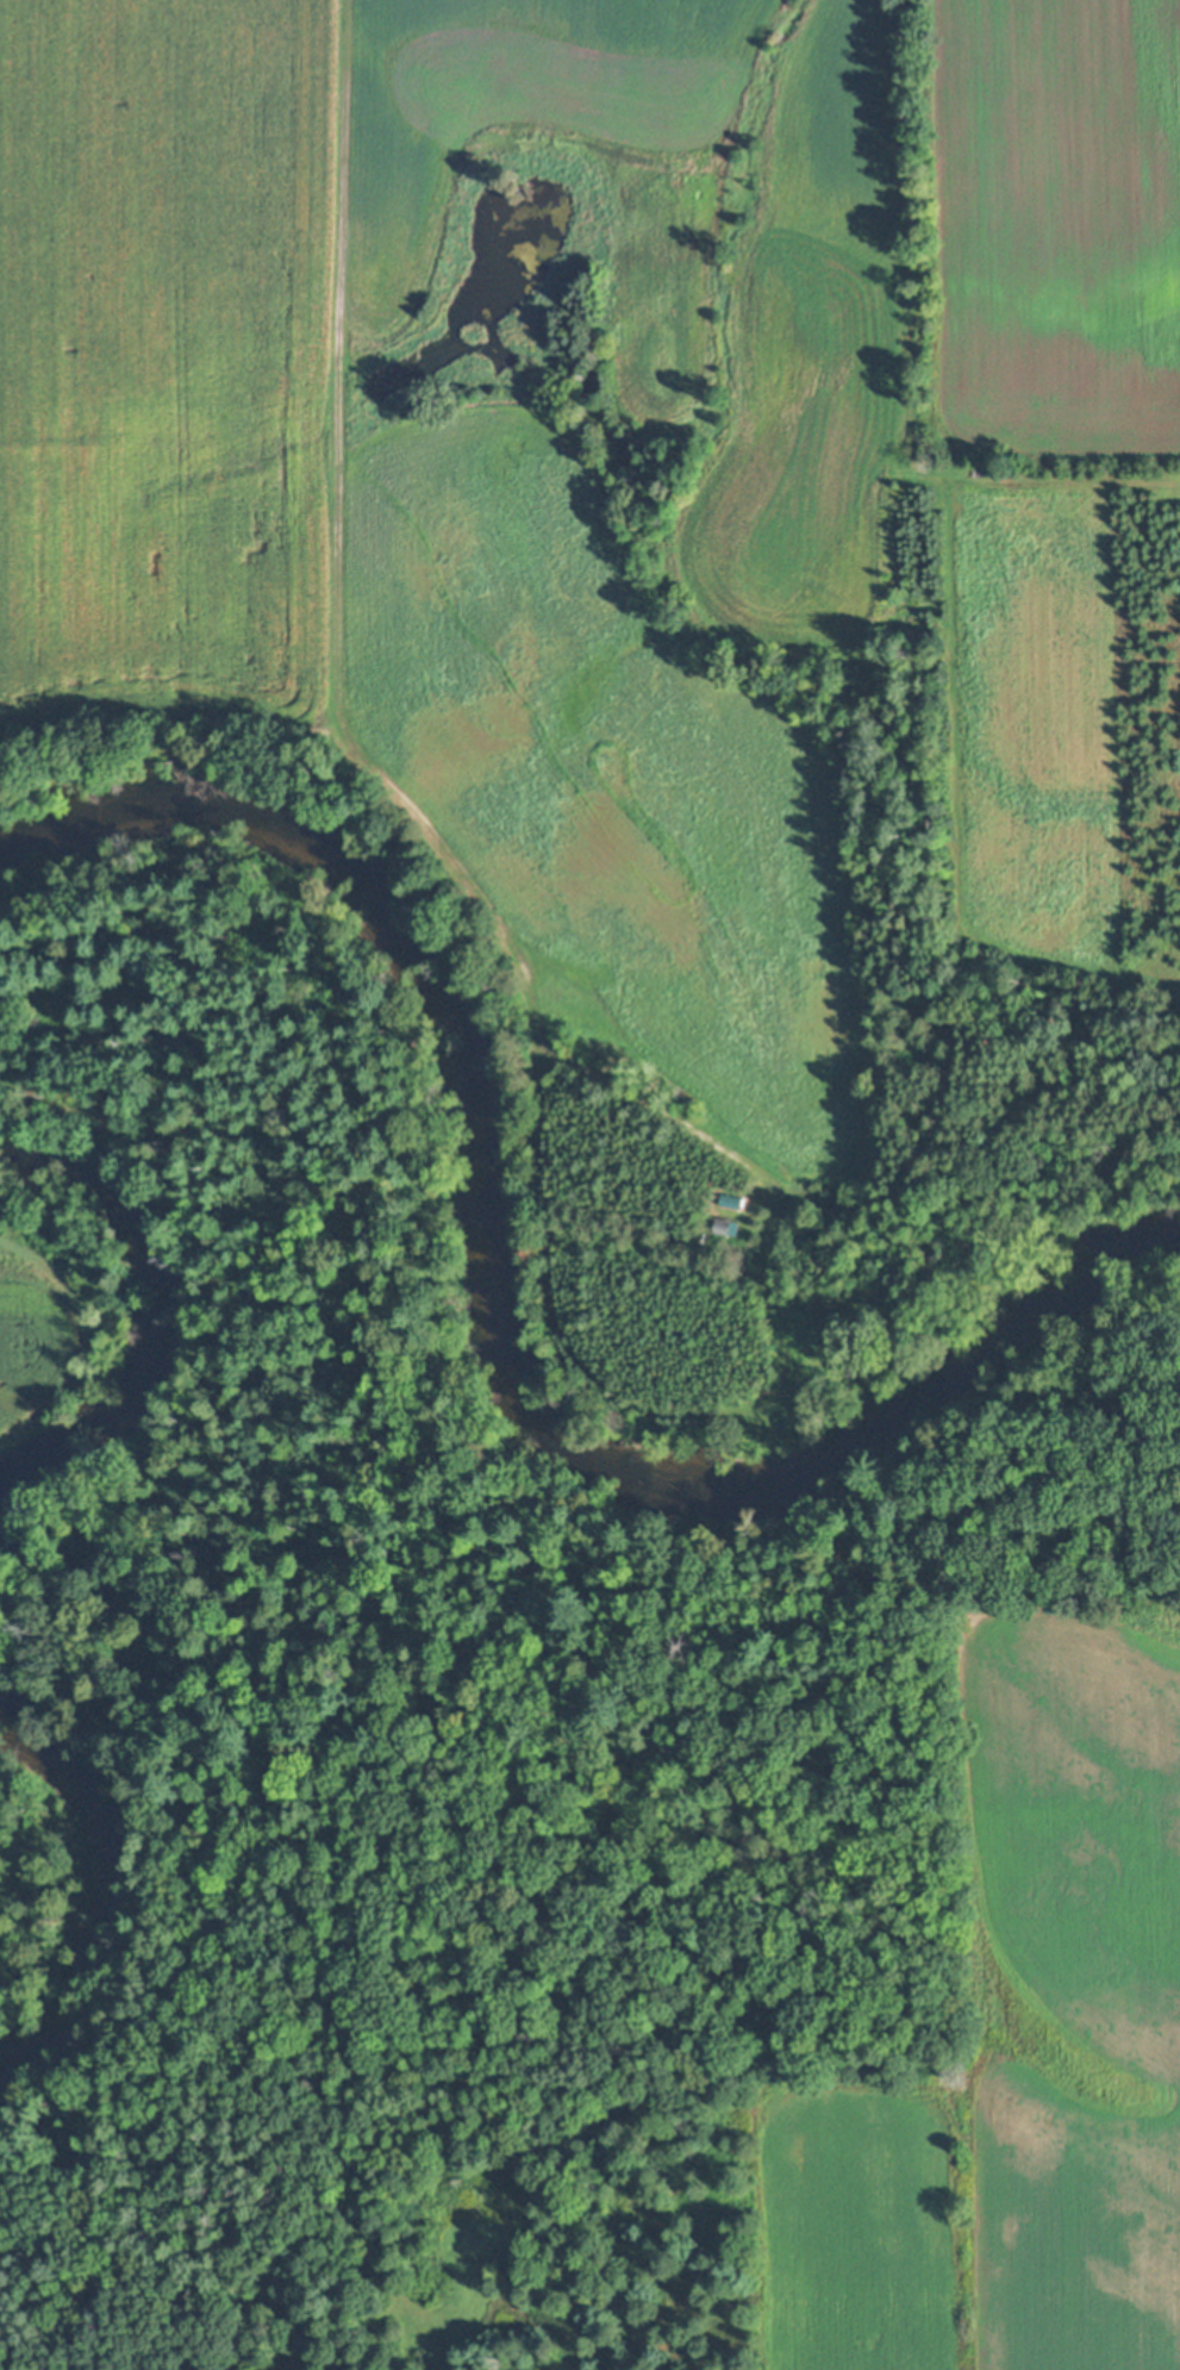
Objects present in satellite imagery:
building: (726, 1228)
river: (505, 1312)
river: (155, 1314)
river: (98, 1890)

